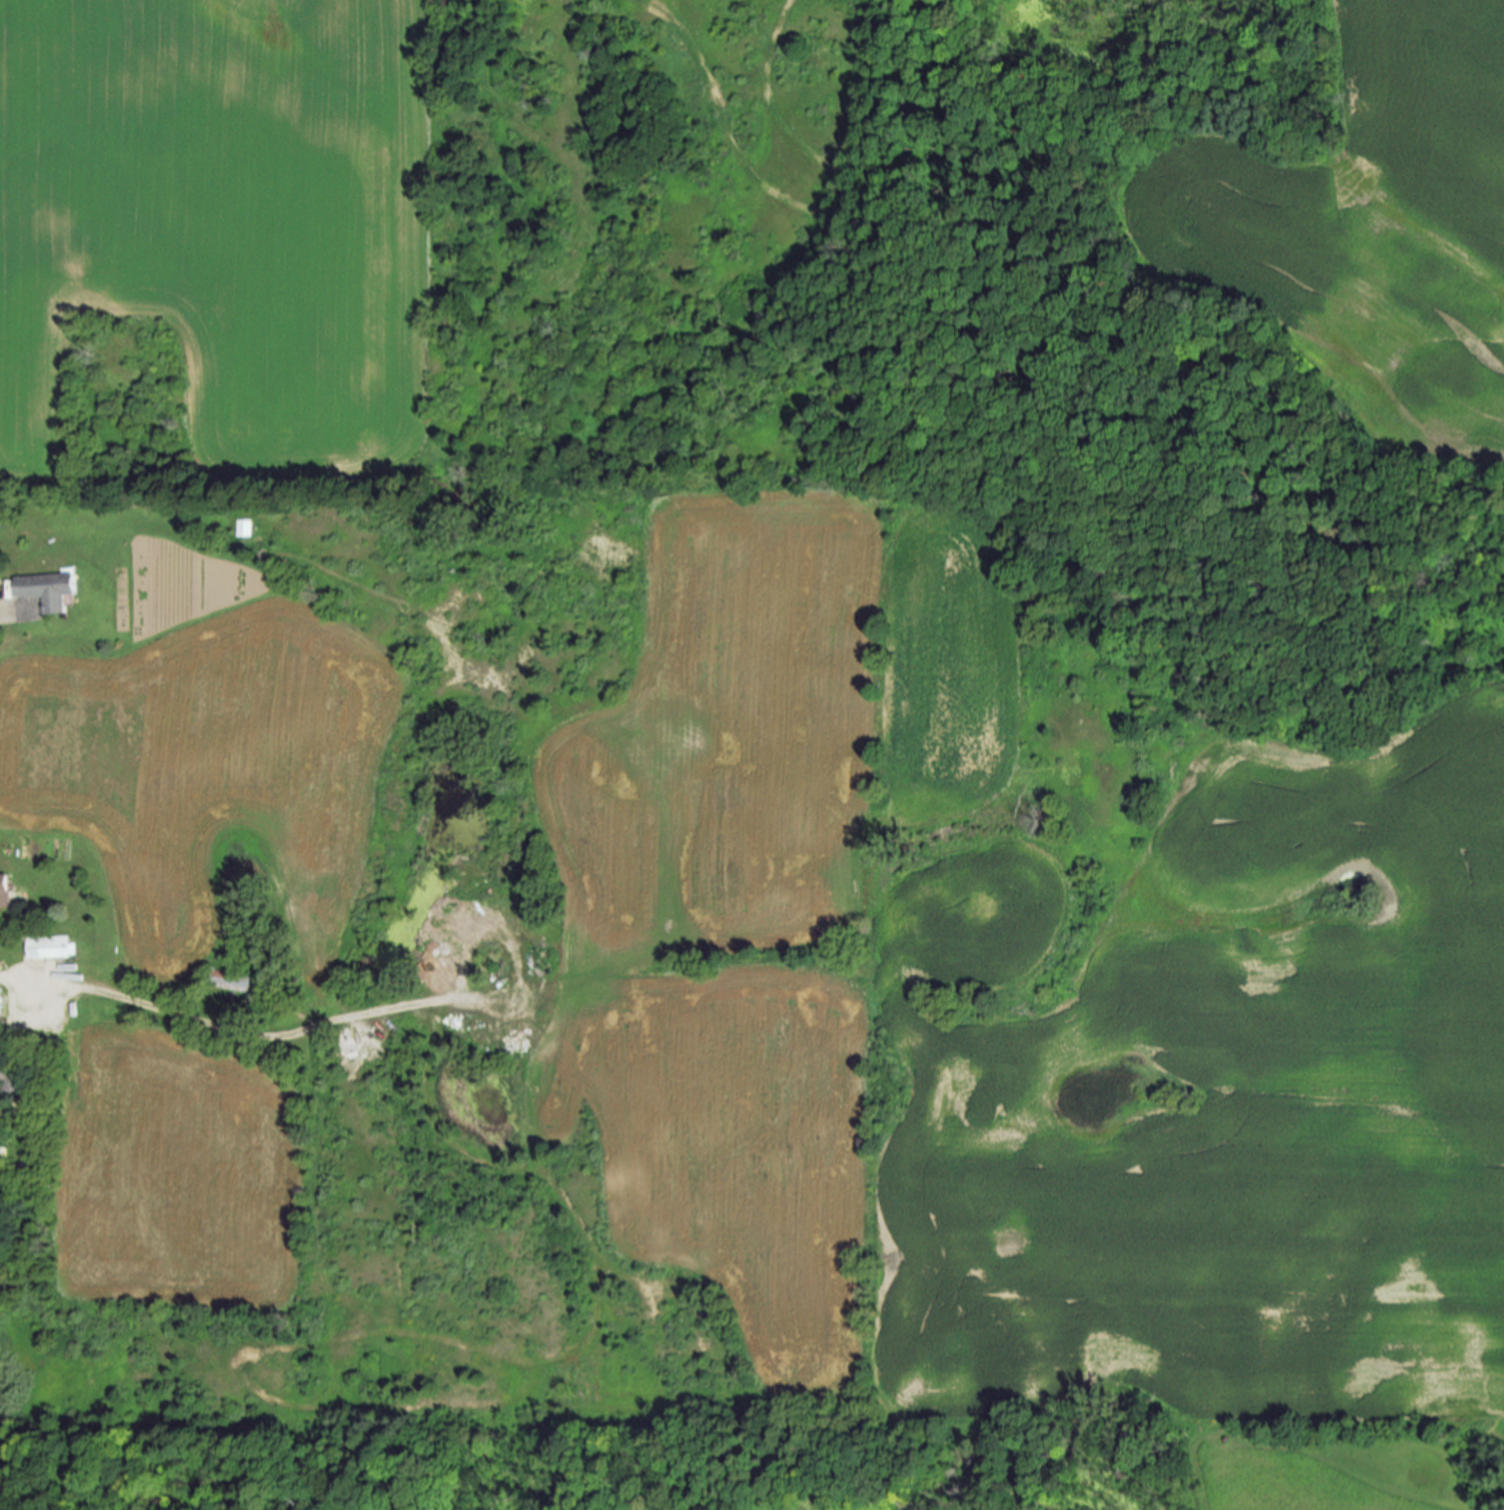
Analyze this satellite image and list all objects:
building: (242, 528)
building: (47, 590)
road: (1, 621)
building: (5, 891)
building: (49, 947)
building: (230, 981)
road: (244, 1033)
building: (10, 1087)

